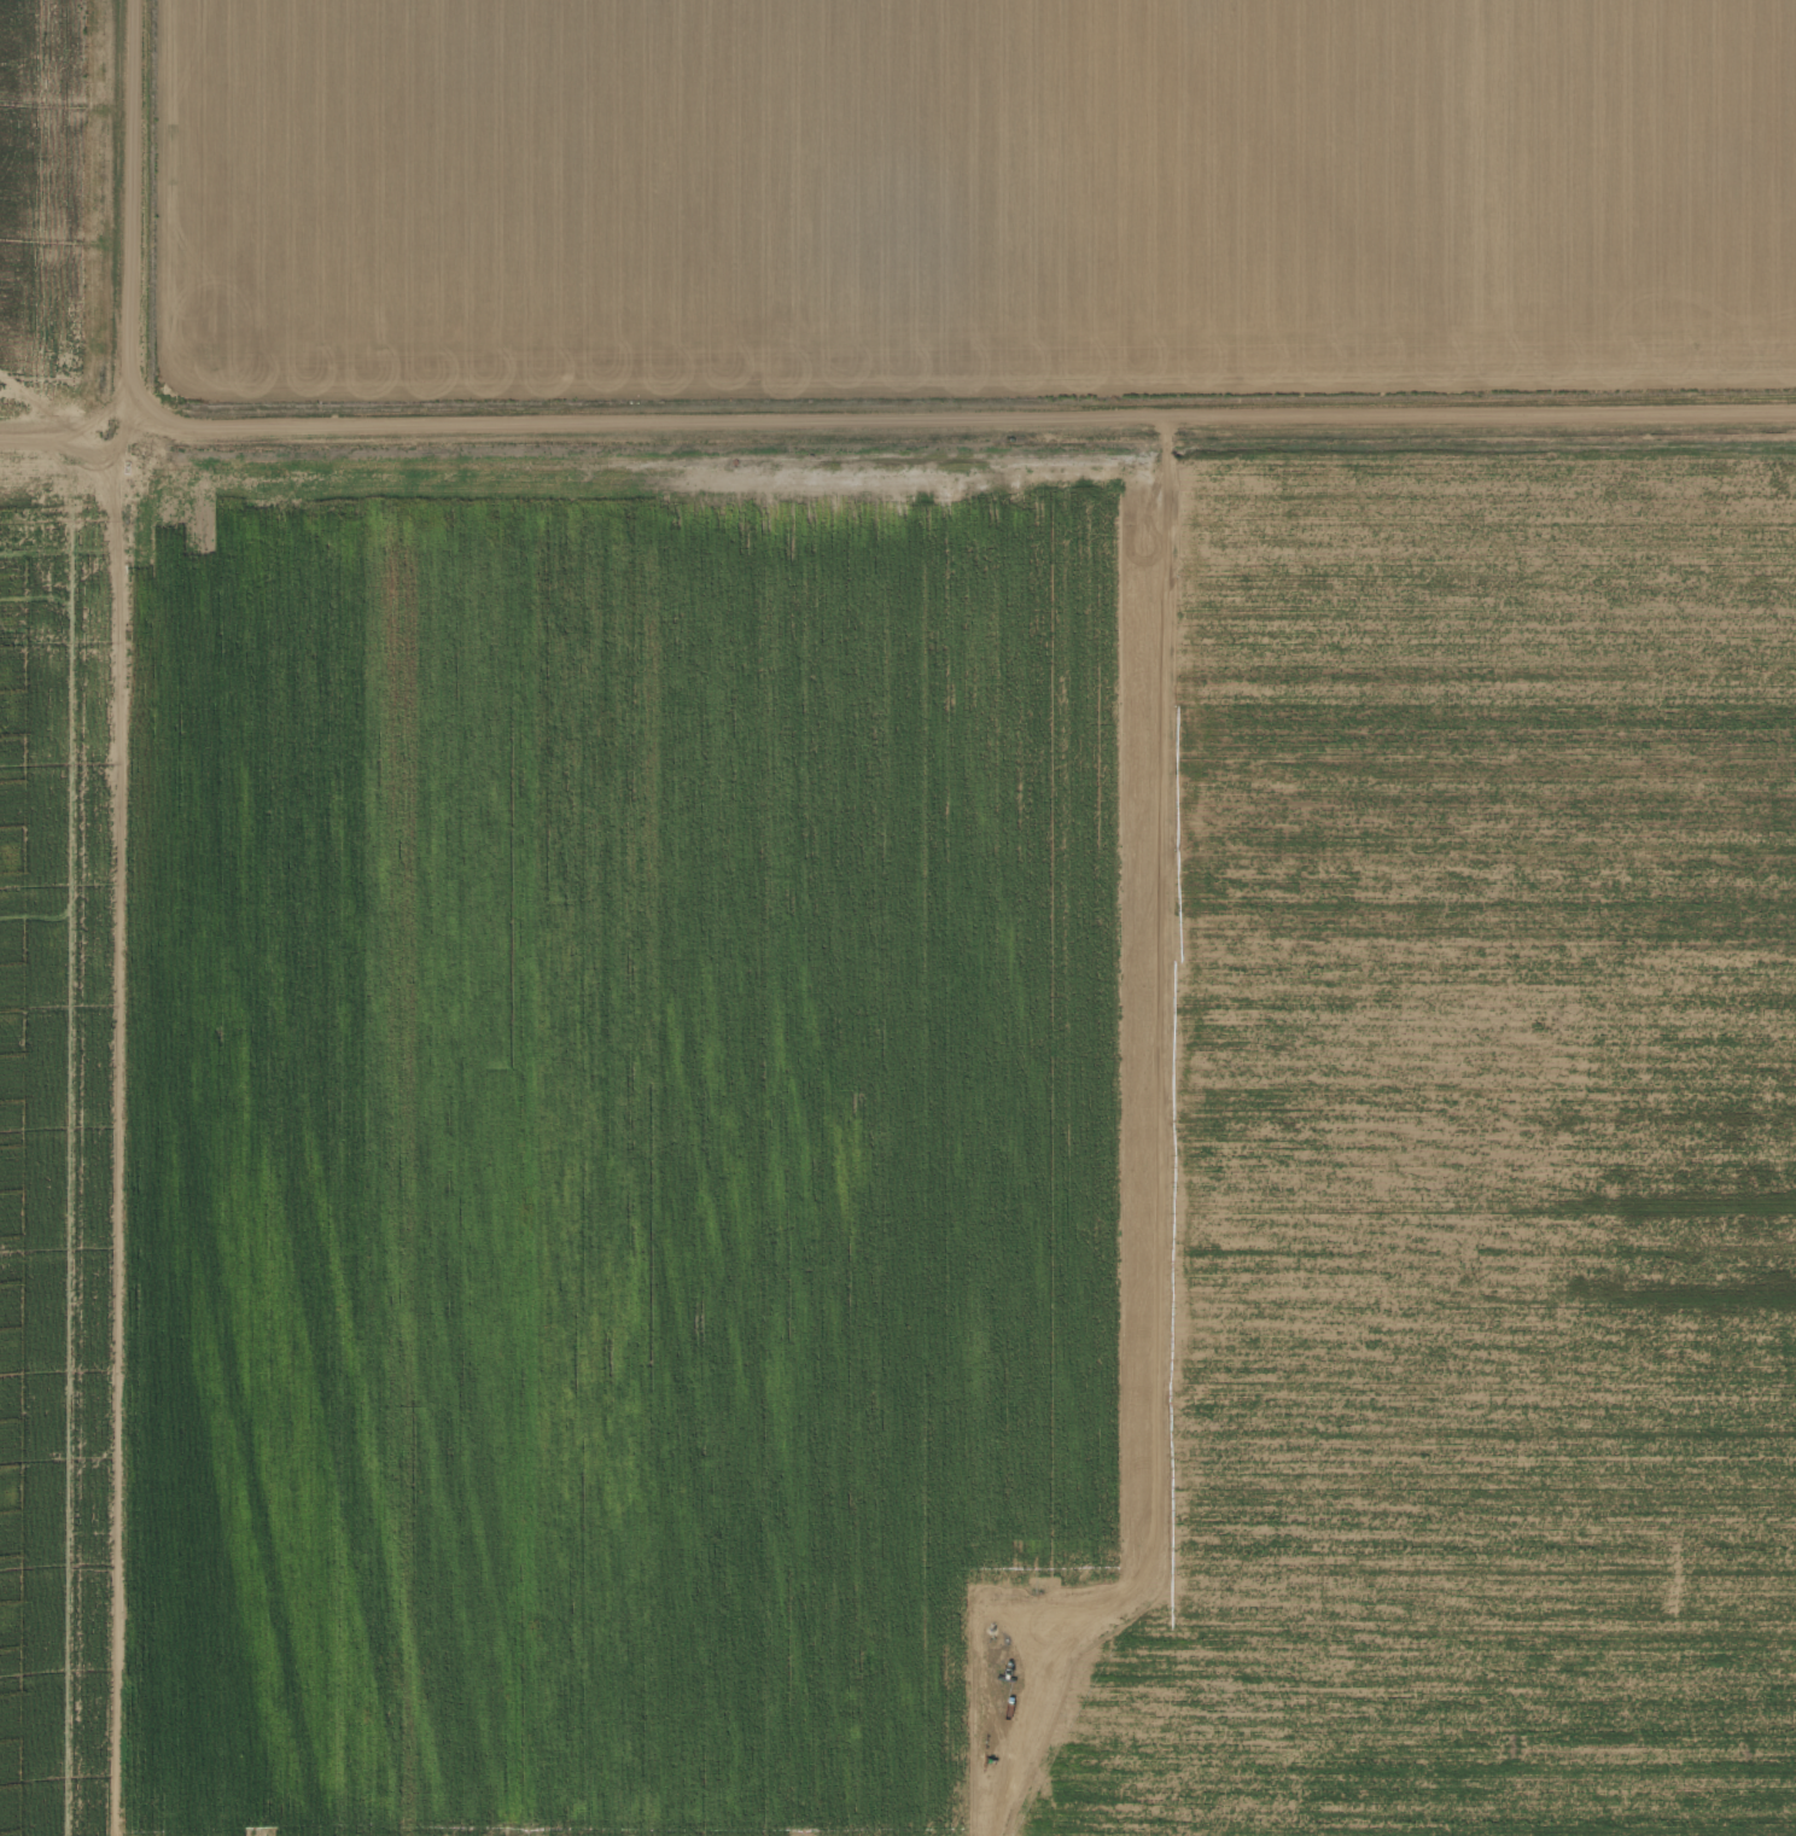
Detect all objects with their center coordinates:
road: (135, 198)
road: (968, 415)

